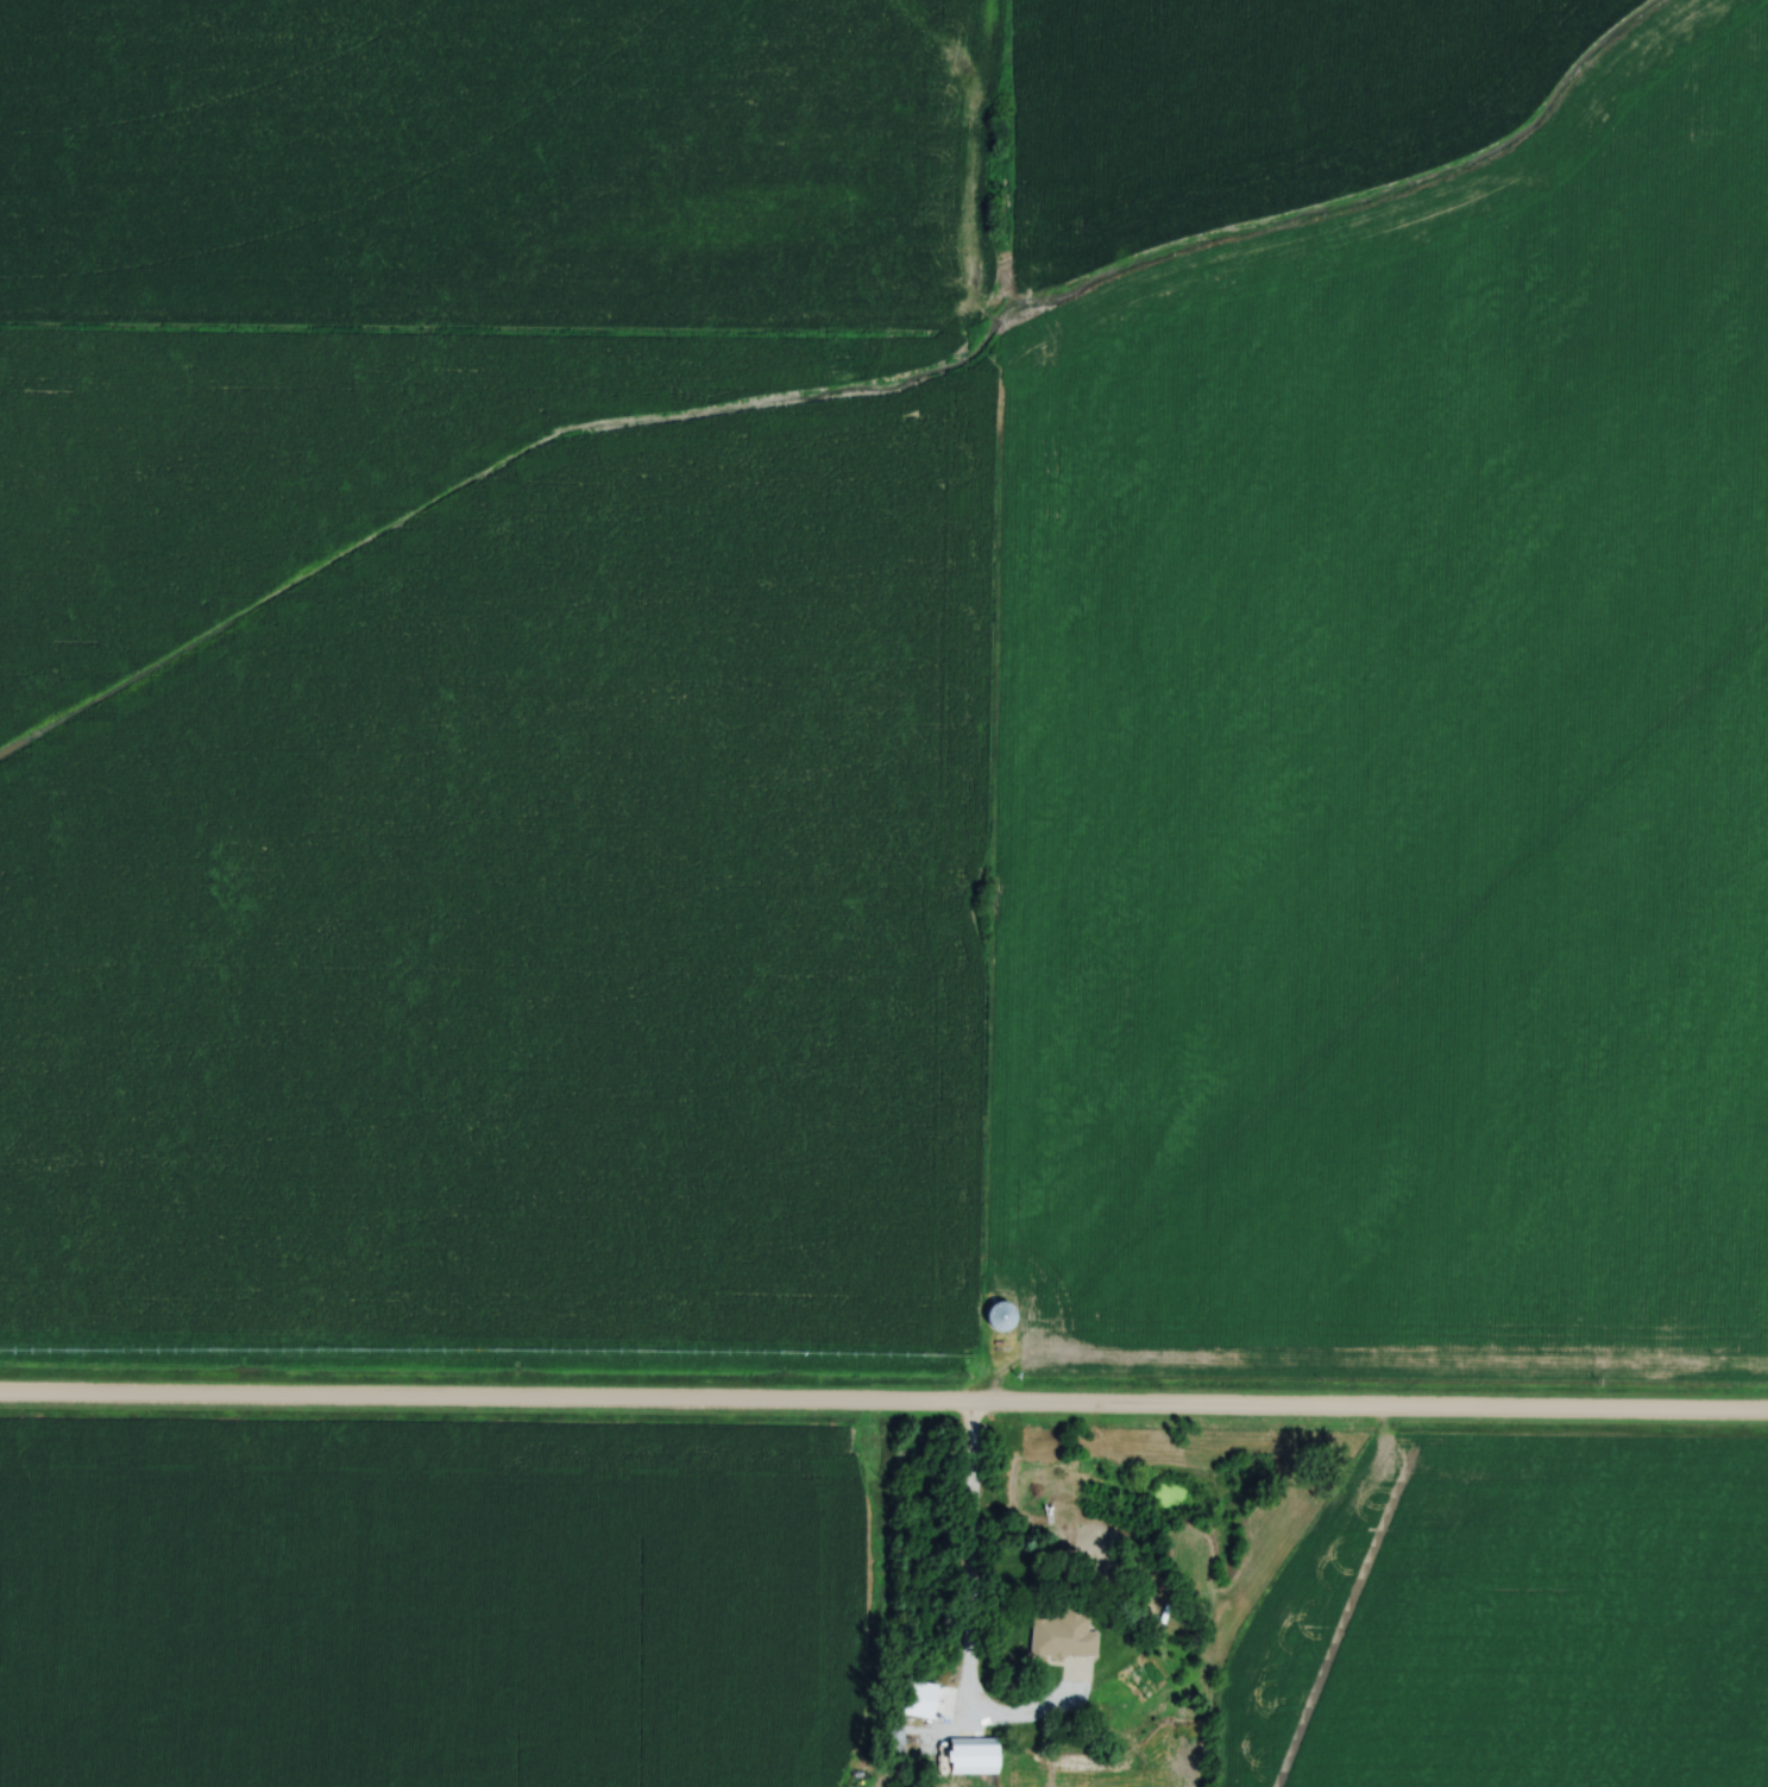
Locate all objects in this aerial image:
road: (883, 1403)
road: (967, 1613)
building: (1065, 1635)
building: (921, 1699)
building: (979, 1756)

